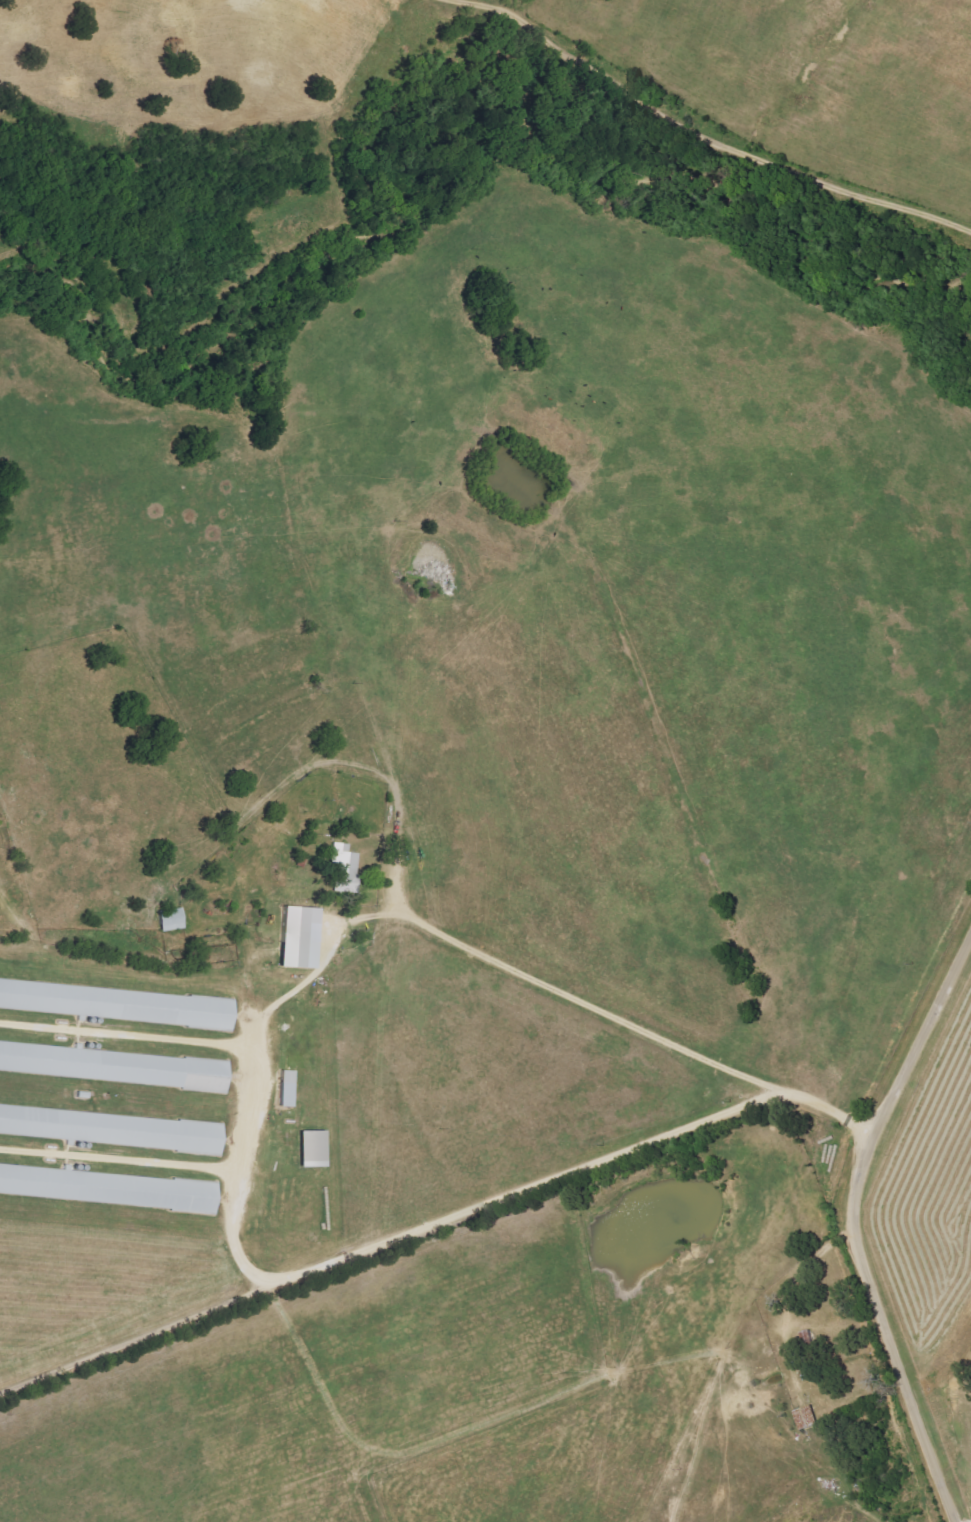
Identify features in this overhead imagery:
building: (344, 867)
building: (171, 918)
building: (299, 937)
building: (116, 1003)
building: (113, 1065)
road: (256, 1079)
building: (287, 1088)
building: (113, 1128)
building: (313, 1148)
building: (108, 1187)
road: (847, 1233)

